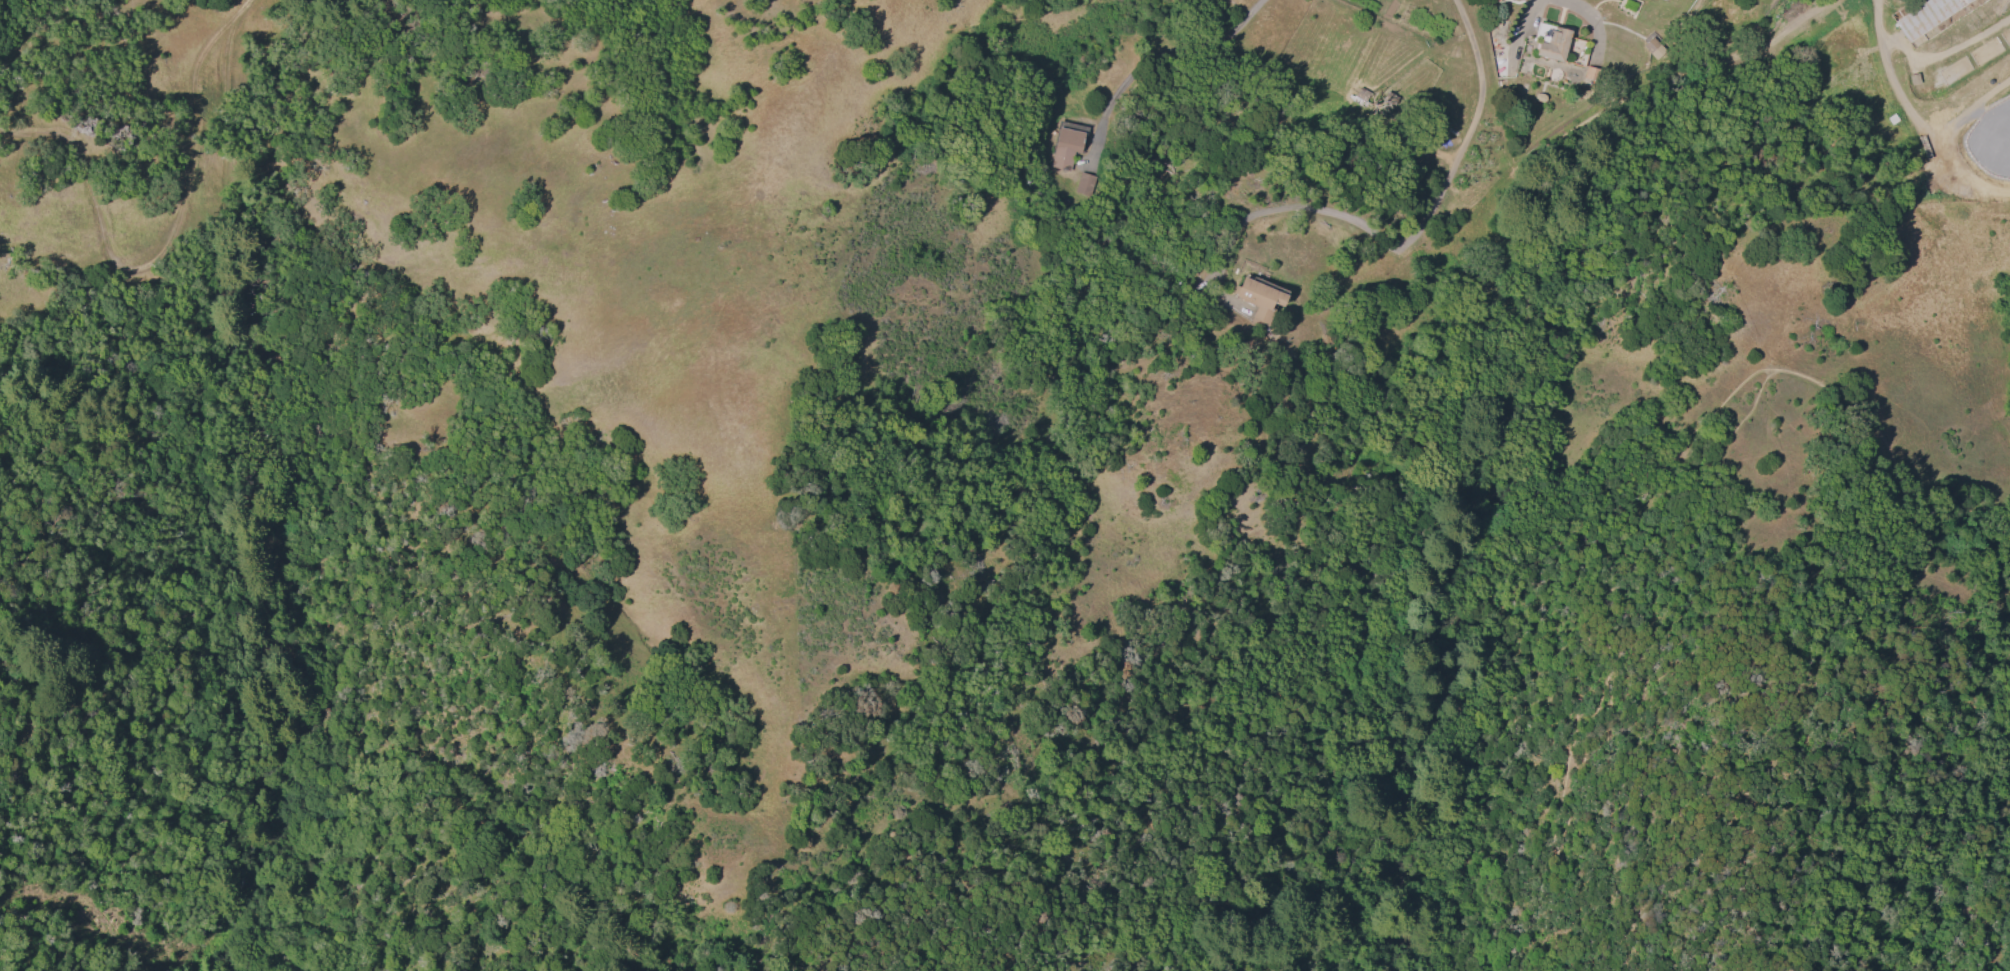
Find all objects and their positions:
road: (1586, 14)
building: (1931, 17)
building: (1553, 43)
building: (1653, 47)
road: (1926, 56)
road: (1174, 60)
building: (1591, 72)
building: (1066, 146)
building: (1084, 182)
road: (166, 237)
road: (1408, 239)
building: (1260, 299)
road: (1713, 414)
road: (1570, 761)
road: (1732, 807)
road: (1418, 818)

